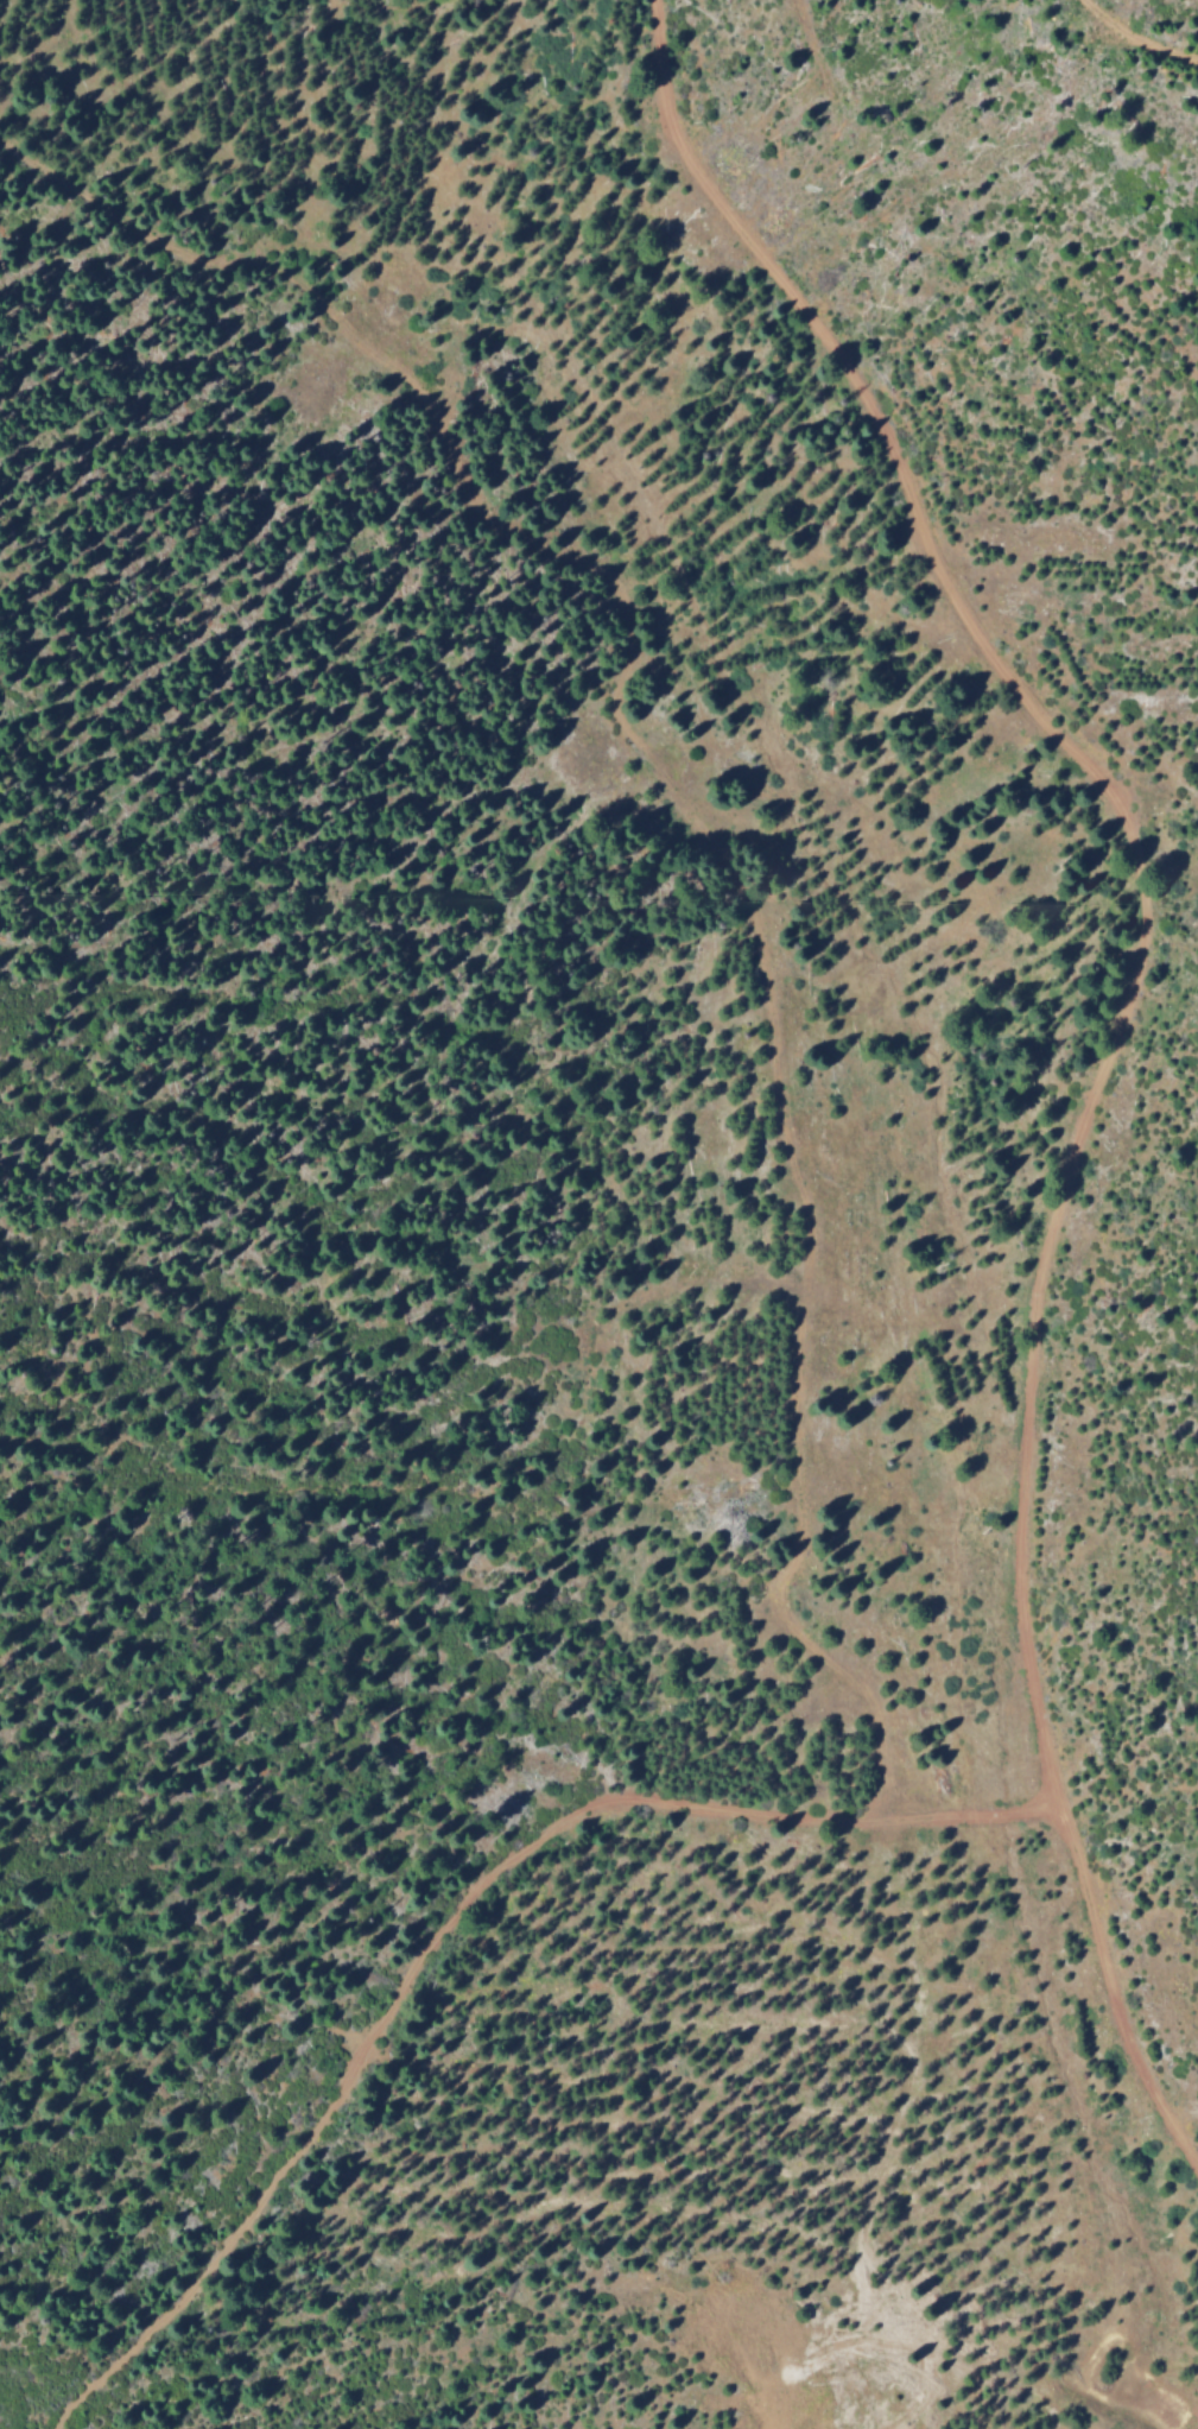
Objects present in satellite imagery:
road: (1134, 37)
road: (692, 841)
road: (1118, 1030)
road: (727, 1817)
road: (265, 2194)
road: (781, 2379)

